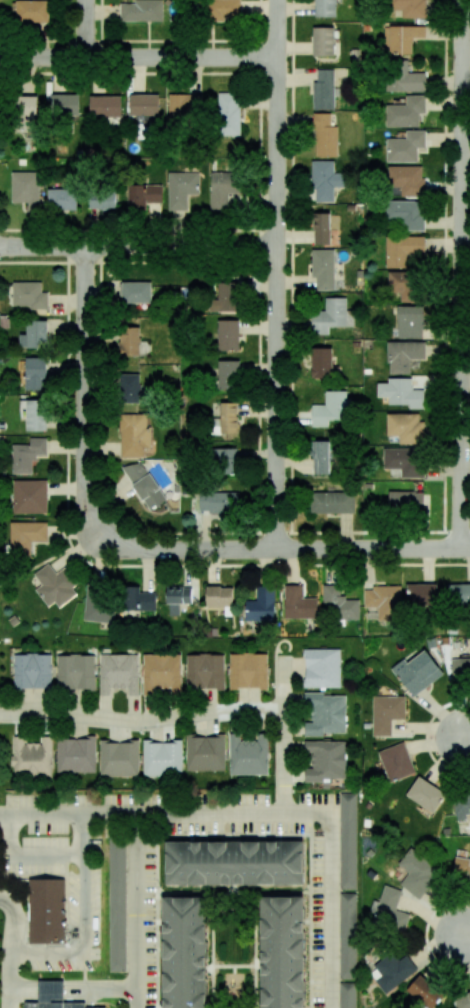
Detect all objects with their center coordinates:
building: (408, 7)
building: (325, 8)
building: (219, 9)
building: (32, 11)
building: (141, 11)
road: (86, 28)
building: (404, 38)
building: (323, 41)
road: (139, 57)
building: (403, 77)
building: (323, 89)
building: (64, 104)
building: (143, 104)
building: (183, 105)
building: (104, 106)
building: (406, 112)
building: (26, 113)
building: (228, 114)
building: (324, 136)
building: (405, 146)
building: (407, 179)
building: (325, 181)
building: (26, 188)
building: (222, 188)
building: (181, 189)
building: (143, 196)
building: (62, 199)
building: (102, 199)
building: (404, 214)
building: (321, 229)
road: (138, 246)
building: (403, 250)
building: (322, 269)
road: (276, 274)
road: (462, 274)
building: (403, 285)
building: (136, 292)
building: (28, 295)
building: (224, 298)
building: (330, 316)
building: (410, 322)
building: (34, 335)
building: (228, 335)
building: (129, 341)
building: (403, 355)
building: (321, 362)
building: (36, 373)
building: (228, 374)
building: (130, 388)
road: (84, 389)
building: (401, 393)
building: (330, 409)
building: (35, 415)
building: (228, 418)
building: (406, 427)
building: (135, 436)
building: (27, 455)
building: (320, 457)
building: (225, 461)
building: (404, 461)
building: (144, 485)
building: (30, 496)
building: (405, 501)
building: (218, 502)
building: (332, 502)
building: (26, 537)
road: (287, 549)
building: (54, 586)
building: (421, 595)
building: (458, 595)
building: (219, 596)
building: (177, 598)
building: (137, 599)
building: (383, 601)
building: (298, 603)
building: (98, 604)
building: (340, 604)
building: (261, 605)
building: (322, 668)
building: (463, 668)
building: (247, 670)
building: (32, 671)
building: (75, 671)
building: (204, 671)
building: (417, 672)
building: (118, 673)
building: (161, 673)
building: (386, 713)
building: (326, 714)
road: (142, 721)
road: (284, 734)
road: (465, 737)
building: (205, 753)
building: (76, 755)
building: (247, 755)
building: (32, 757)
building: (118, 758)
building: (162, 758)
building: (326, 761)
building: (396, 762)
building: (425, 794)
building: (461, 806)
road: (142, 814)
building: (347, 840)
road: (48, 855)
building: (234, 863)
building: (461, 868)
building: (415, 874)
building: (22, 883)
road: (329, 888)
road: (85, 903)
building: (117, 905)
building: (46, 910)
road: (136, 911)
building: (388, 911)
building: (347, 935)
road: (465, 936)
road: (12, 949)
building: (184, 952)
building: (282, 952)
road: (49, 955)
building: (391, 971)
road: (72, 989)
building: (51, 990)
building: (424, 992)
building: (347, 995)
building: (462, 1000)
building: (56, 1004)

